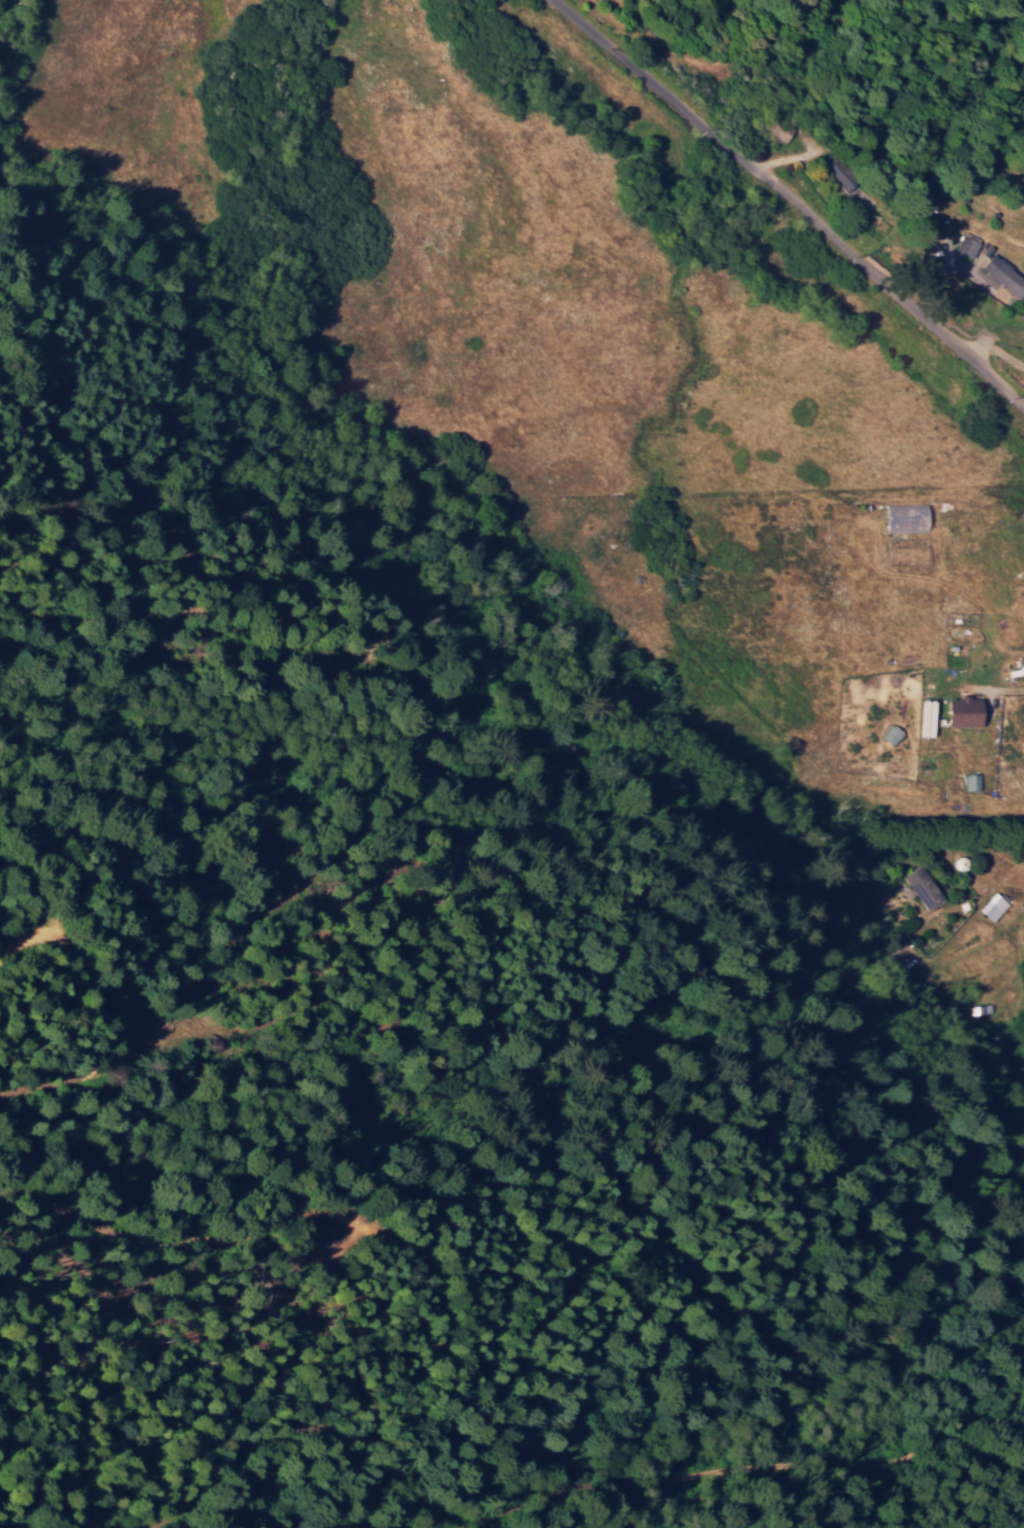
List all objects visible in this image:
building: (842, 170)
road: (790, 201)
building: (969, 244)
building: (997, 274)
building: (968, 711)
building: (926, 886)
building: (996, 905)
road: (954, 1026)

